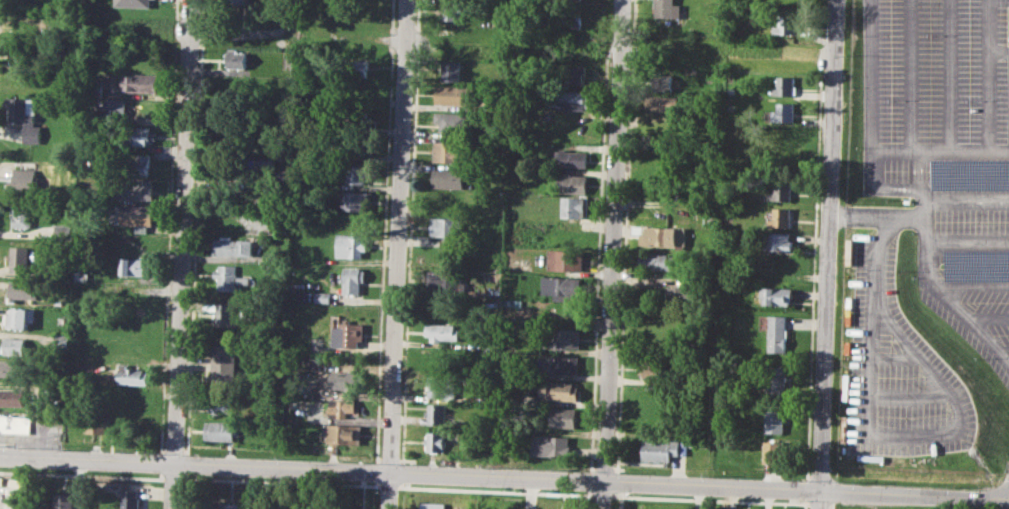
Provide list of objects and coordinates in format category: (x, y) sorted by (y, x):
building: (134, 2)
building: (237, 2)
building: (667, 9)
building: (451, 10)
building: (571, 19)
building: (788, 23)
road: (340, 38)
road: (999, 52)
road: (716, 53)
building: (236, 58)
building: (354, 68)
building: (451, 71)
building: (568, 75)
road: (908, 76)
road: (947, 76)
road: (988, 76)
building: (660, 81)
building: (144, 82)
building: (785, 86)
building: (96, 87)
road: (867, 93)
building: (453, 95)
building: (570, 98)
building: (664, 103)
building: (114, 105)
building: (784, 112)
building: (25, 117)
building: (454, 121)
building: (138, 135)
building: (451, 151)
parking lot: (945, 151)
road: (938, 152)
building: (571, 159)
building: (135, 165)
building: (250, 167)
building: (356, 172)
building: (970, 173)
building: (450, 177)
building: (25, 180)
building: (573, 184)
road: (896, 188)
building: (137, 189)
building: (782, 190)
building: (357, 200)
road: (967, 200)
building: (570, 206)
road: (227, 208)
building: (24, 216)
building: (138, 216)
building: (707, 216)
road: (877, 217)
building: (779, 218)
building: (278, 222)
building: (446, 226)
road: (926, 232)
building: (662, 236)
building: (778, 241)
road: (968, 242)
building: (351, 245)
road: (827, 245)
building: (233, 246)
road: (183, 254)
road: (398, 254)
road: (611, 254)
building: (21, 259)
building: (566, 260)
building: (658, 260)
building: (977, 265)
building: (138, 266)
building: (231, 278)
building: (354, 279)
building: (447, 282)
road: (975, 285)
building: (564, 287)
building: (24, 290)
building: (777, 296)
building: (322, 297)
building: (680, 297)
building: (228, 312)
road: (968, 314)
building: (19, 317)
road: (990, 317)
road: (869, 324)
building: (443, 332)
building: (776, 333)
building: (347, 334)
building: (562, 337)
building: (16, 345)
road: (1006, 352)
road: (923, 358)
road: (897, 360)
building: (225, 361)
building: (561, 364)
building: (12, 368)
building: (658, 368)
parking lot: (899, 371)
building: (133, 375)
building: (347, 381)
building: (775, 381)
building: (444, 386)
building: (559, 390)
road: (913, 393)
building: (13, 396)
building: (223, 402)
building: (344, 407)
building: (438, 414)
building: (563, 417)
building: (774, 419)
building: (98, 422)
building: (15, 424)
building: (223, 430)
building: (344, 435)
road: (913, 435)
building: (438, 441)
building: (698, 441)
building: (551, 445)
building: (663, 449)
building: (773, 451)
road: (410, 473)
building: (1, 480)
building: (15, 482)
road: (79, 485)
building: (16, 493)
road: (530, 494)
road: (914, 495)
building: (131, 499)
building: (64, 500)
road: (819, 500)
building: (14, 505)
building: (232, 505)
building: (433, 505)
building: (512, 508)

